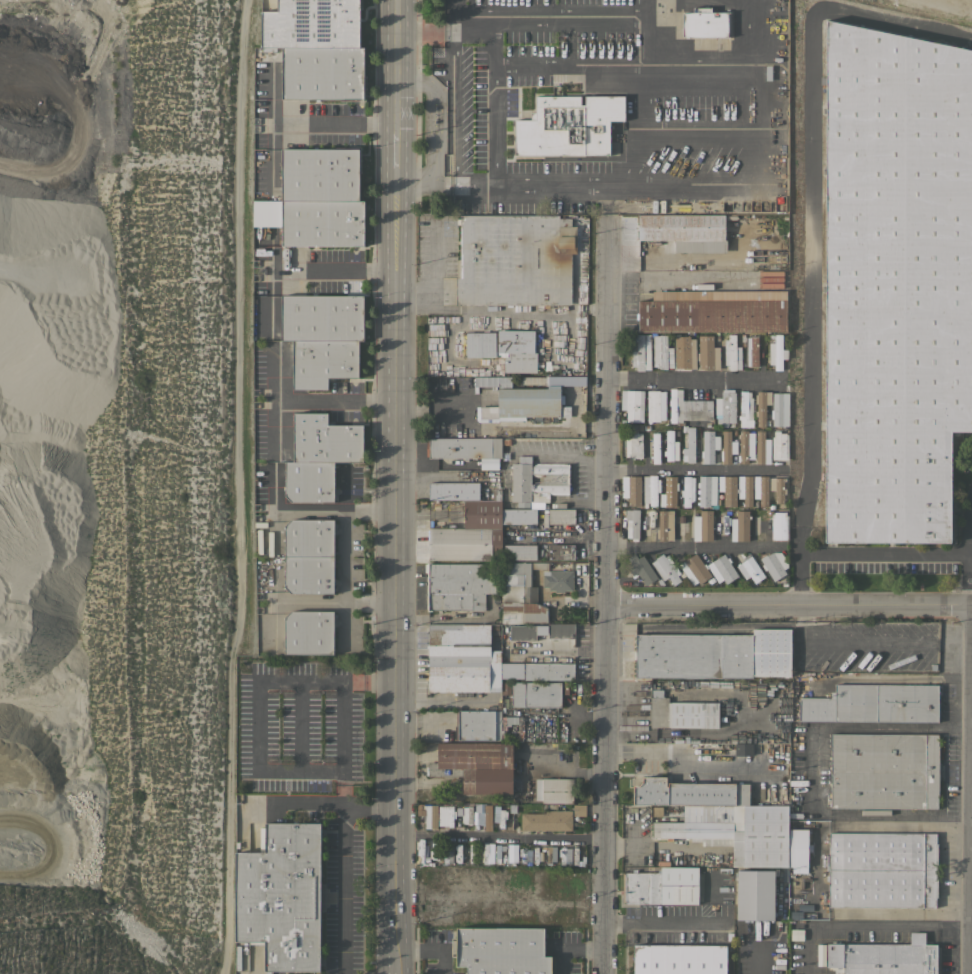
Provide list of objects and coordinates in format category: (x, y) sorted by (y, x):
road: (454, 16)
road: (554, 16)
building: (705, 23)
building: (311, 24)
road: (745, 24)
road: (427, 33)
building: (322, 73)
road: (495, 102)
road: (455, 110)
gas station: (433, 113)
road: (435, 116)
road: (338, 121)
building: (568, 125)
building: (320, 174)
road: (417, 180)
road: (445, 184)
road: (669, 186)
building: (312, 221)
road: (811, 223)
building: (686, 231)
building: (515, 260)
road: (339, 271)
building: (895, 281)
building: (713, 311)
building: (321, 317)
building: (502, 348)
building: (640, 351)
building: (661, 351)
building: (752, 351)
building: (684, 352)
building: (776, 352)
building: (707, 353)
building: (731, 353)
building: (322, 362)
building: (482, 380)
road: (696, 381)
road: (339, 397)
building: (526, 403)
building: (632, 404)
building: (655, 405)
building: (675, 405)
building: (761, 406)
building: (725, 408)
building: (697, 409)
building: (745, 409)
building: (777, 409)
building: (325, 439)
building: (633, 442)
building: (689, 444)
building: (779, 445)
building: (670, 446)
building: (745, 446)
building: (655, 447)
building: (727, 447)
building: (463, 448)
building: (762, 448)
building: (489, 463)
road: (694, 470)
building: (537, 480)
building: (308, 481)
quarry: (117, 483)
road: (400, 486)
building: (669, 487)
building: (777, 488)
building: (631, 489)
building: (727, 489)
building: (745, 489)
building: (760, 489)
building: (453, 490)
building: (687, 490)
building: (651, 491)
building: (706, 491)
building: (496, 494)
road: (338, 508)
building: (518, 516)
building: (561, 516)
building: (632, 523)
building: (665, 525)
building: (705, 525)
building: (742, 525)
building: (778, 525)
building: (469, 534)
building: (308, 539)
road: (690, 547)
building: (519, 551)
building: (561, 551)
road: (343, 555)
road: (884, 555)
building: (772, 565)
building: (666, 568)
building: (641, 569)
building: (694, 569)
building: (722, 569)
building: (751, 569)
building: (308, 576)
building: (557, 580)
building: (459, 585)
building: (520, 593)
road: (610, 594)
road: (791, 598)
road: (338, 602)
building: (561, 630)
building: (528, 631)
building: (308, 632)
building: (713, 654)
building: (462, 658)
building: (510, 671)
building: (548, 671)
building: (536, 694)
building: (874, 703)
building: (681, 712)
road: (584, 716)
road: (299, 724)
building: (502, 724)
parking lot: (299, 725)
building: (475, 725)
road: (830, 727)
road: (758, 731)
road: (255, 742)
building: (741, 749)
building: (475, 765)
building: (884, 770)
building: (554, 790)
building: (689, 792)
road: (298, 803)
building: (578, 808)
building: (498, 813)
building: (427, 814)
building: (466, 814)
building: (448, 815)
building: (486, 815)
building: (547, 820)
building: (735, 831)
road: (503, 835)
building: (797, 848)
building: (422, 852)
building: (471, 852)
building: (447, 853)
building: (457, 853)
building: (485, 853)
building: (577, 853)
building: (524, 854)
building: (551, 854)
building: (435, 855)
building: (562, 856)
road: (342, 864)
building: (882, 869)
road: (814, 870)
building: (434, 875)
building: (562, 880)
building: (661, 886)
building: (754, 894)
building: (281, 896)
building: (455, 910)
road: (665, 924)
road: (869, 926)
road: (434, 947)
building: (501, 950)
road: (748, 950)
building: (819, 954)
building: (883, 957)
building: (679, 959)

